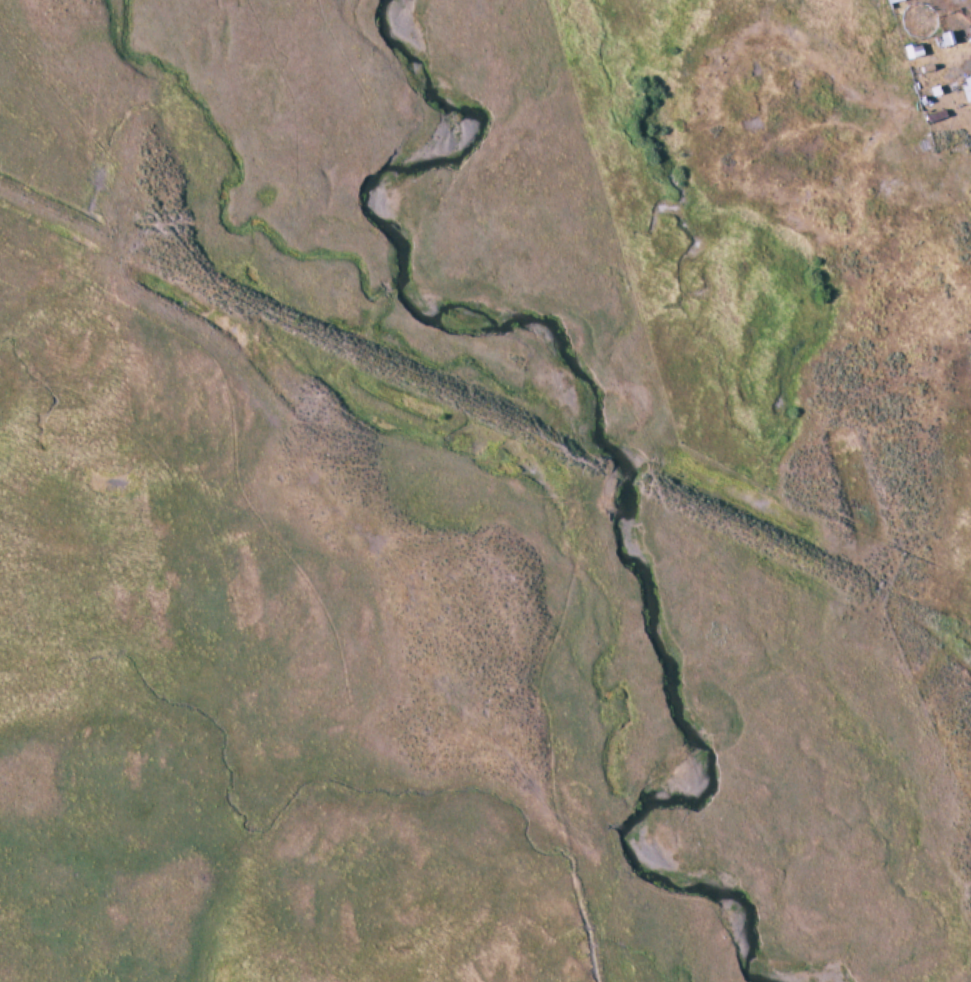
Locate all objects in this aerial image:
building: (966, 91)

